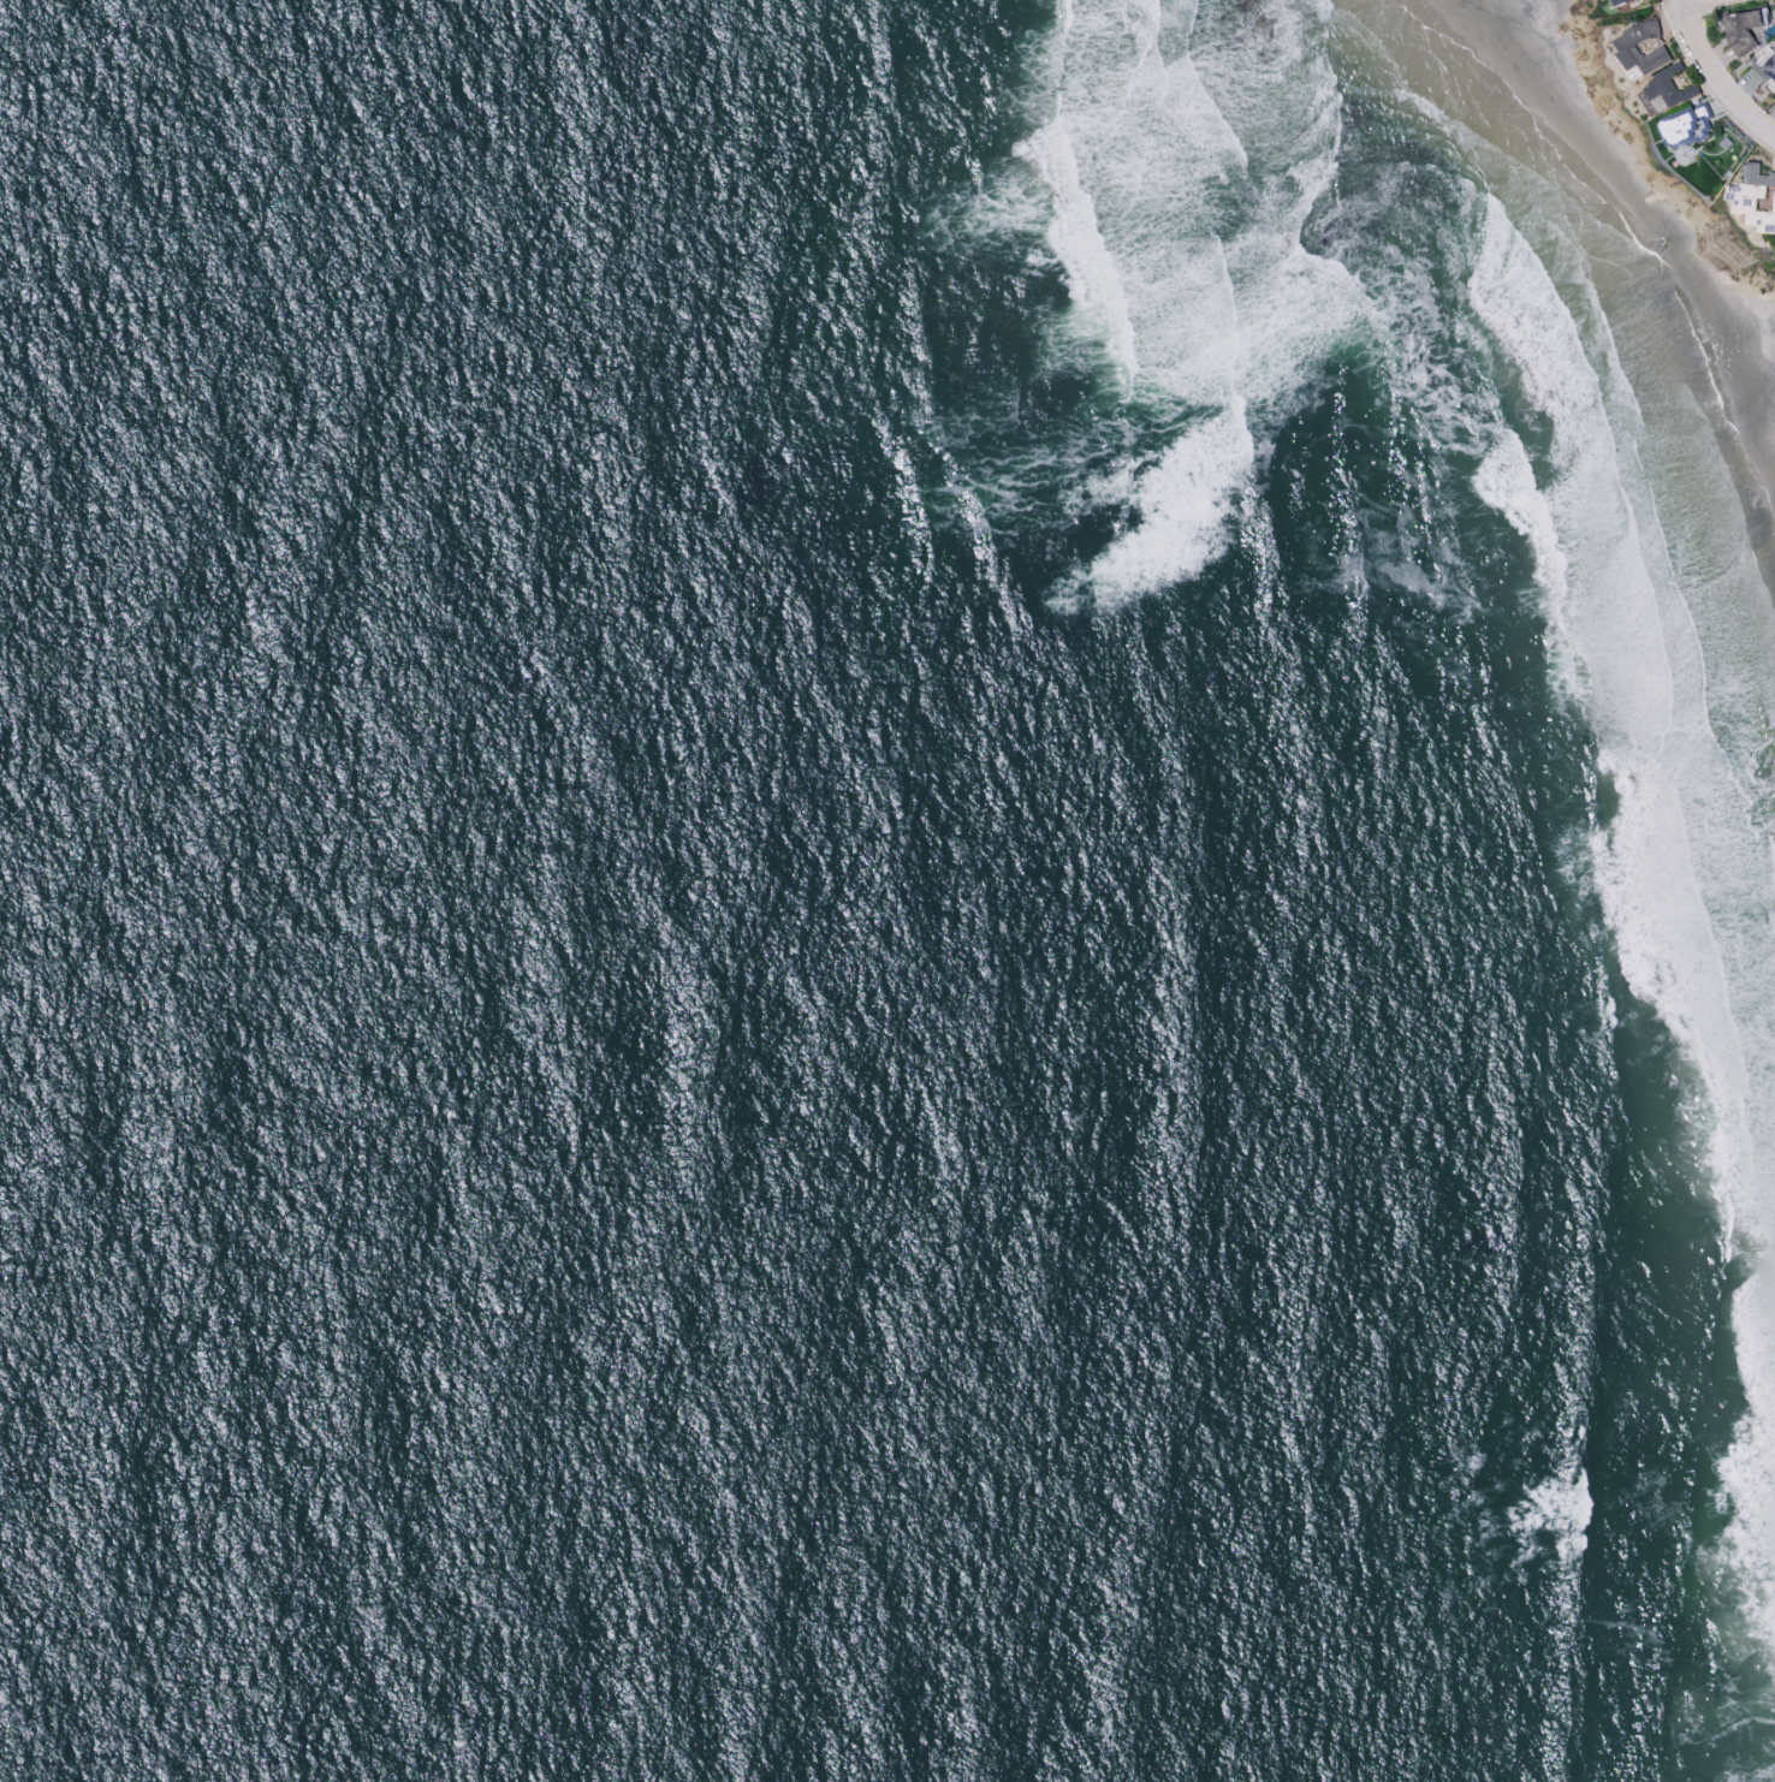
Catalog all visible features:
road: (1678, 0)
road: (1682, 0)
building: (1617, 2)
building: (1747, 28)
building: (1651, 43)
building: (1627, 46)
building: (1767, 65)
road: (1718, 71)
building: (1669, 87)
building: (1687, 126)
building: (1757, 174)
building: (1734, 192)
building: (1774, 201)
building: (1761, 219)

